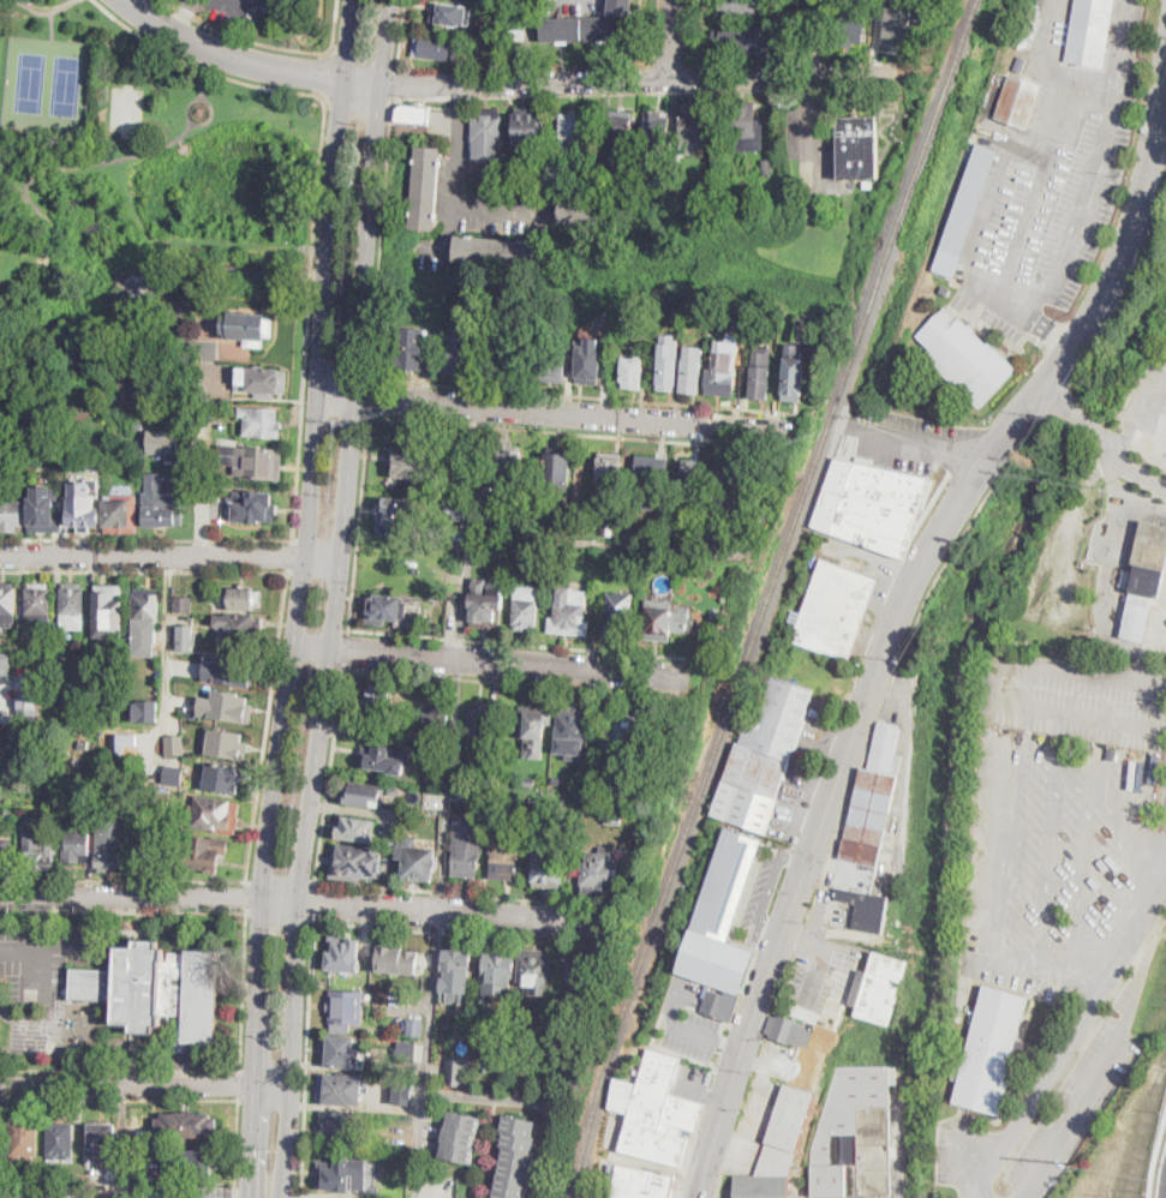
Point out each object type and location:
road: (195, 1)
road: (227, 1)
building: (739, 6)
road: (177, 8)
parking lot: (239, 10)
road: (44, 11)
building: (452, 13)
road: (181, 16)
building: (851, 22)
road: (52, 23)
building: (588, 25)
building: (898, 25)
road: (335, 30)
building: (1089, 32)
road: (656, 34)
road: (695, 34)
building: (803, 35)
road: (400, 36)
building: (736, 37)
road: (820, 38)
road: (349, 40)
road: (531, 41)
road: (674, 41)
road: (387, 42)
road: (257, 43)
building: (432, 48)
road: (229, 55)
building: (1019, 62)
road: (323, 76)
road: (648, 79)
road: (689, 80)
park: (47, 82)
road: (363, 82)
road: (635, 82)
road: (394, 84)
road: (204, 85)
road: (811, 89)
road: (639, 94)
building: (1017, 102)
park: (126, 108)
building: (412, 114)
road: (199, 119)
building: (692, 125)
building: (746, 126)
building: (528, 127)
building: (657, 127)
building: (575, 130)
building: (620, 132)
building: (486, 133)
road: (812, 145)
road: (459, 146)
building: (856, 148)
road: (1050, 155)
building: (765, 166)
building: (677, 168)
building: (555, 170)
road: (36, 174)
building: (868, 184)
building: (426, 188)
park: (125, 190)
road: (317, 192)
road: (500, 209)
building: (965, 210)
building: (580, 212)
parking lot: (1047, 220)
road: (381, 238)
road: (449, 240)
building: (496, 251)
road: (234, 270)
building: (941, 288)
building: (247, 328)
road: (1038, 328)
building: (806, 331)
building: (407, 348)
building: (552, 353)
building: (461, 355)
building: (516, 358)
building: (965, 358)
building: (588, 361)
building: (668, 367)
building: (692, 369)
building: (633, 372)
building: (760, 373)
building: (793, 373)
building: (720, 376)
building: (262, 381)
building: (120, 382)
building: (149, 384)
road: (369, 396)
road: (579, 397)
road: (551, 413)
building: (261, 423)
building: (138, 425)
road: (534, 431)
road: (1137, 432)
parking lot: (911, 439)
building: (165, 441)
road: (1102, 441)
road: (923, 445)
building: (454, 459)
building: (253, 461)
building: (412, 462)
building: (507, 466)
building: (557, 467)
building: (609, 469)
road: (204, 473)
building: (692, 480)
building: (653, 481)
building: (724, 491)
building: (869, 503)
building: (161, 504)
building: (253, 508)
building: (458, 510)
building: (10, 514)
building: (43, 514)
building: (104, 514)
building: (486, 516)
building: (396, 517)
building: (564, 519)
road: (360, 523)
building: (610, 525)
road: (472, 532)
building: (447, 537)
road: (147, 539)
building: (496, 546)
road: (905, 549)
road: (672, 550)
road: (151, 556)
road: (292, 557)
road: (323, 557)
road: (867, 557)
road: (144, 570)
building: (1144, 579)
railway: (766, 597)
building: (244, 599)
building: (183, 604)
building: (486, 604)
building: (7, 605)
building: (37, 605)
building: (525, 606)
building: (147, 610)
building: (833, 610)
building: (109, 611)
building: (395, 611)
building: (72, 612)
building: (569, 612)
road: (901, 612)
building: (716, 613)
building: (618, 616)
building: (665, 618)
building: (240, 625)
building: (186, 637)
road: (294, 637)
road: (335, 641)
road: (526, 645)
road: (346, 647)
road: (497, 661)
building: (5, 665)
road: (166, 669)
building: (229, 670)
road: (1162, 679)
road: (488, 682)
building: (376, 701)
road: (1019, 701)
building: (28, 705)
building: (226, 706)
building: (147, 711)
building: (438, 713)
building: (479, 720)
building: (0, 723)
road: (267, 727)
building: (533, 729)
building: (570, 730)
building: (627, 735)
building: (109, 736)
building: (26, 739)
building: (225, 742)
building: (84, 743)
building: (174, 743)
building: (502, 753)
building: (763, 753)
building: (384, 756)
building: (490, 767)
road: (328, 772)
building: (174, 773)
building: (220, 777)
building: (530, 780)
building: (408, 784)
road: (450, 785)
building: (394, 790)
building: (363, 793)
building: (165, 796)
building: (873, 798)
building: (533, 801)
building: (545, 802)
building: (426, 803)
building: (10, 808)
building: (633, 811)
building: (215, 814)
building: (612, 819)
building: (357, 829)
building: (74, 846)
building: (205, 852)
building: (110, 853)
building: (466, 853)
building: (504, 855)
building: (5, 857)
building: (42, 859)
building: (352, 862)
building: (417, 862)
building: (546, 868)
building: (598, 873)
parking lot: (848, 874)
road: (122, 880)
building: (726, 882)
road: (770, 883)
parking lot: (763, 891)
road: (460, 894)
road: (246, 895)
road: (307, 900)
road: (315, 900)
road: (122, 910)
building: (865, 910)
road: (35, 923)
road: (456, 934)
road: (67, 948)
building: (345, 953)
road: (42, 954)
building: (397, 957)
parking lot: (42, 958)
building: (716, 960)
building: (500, 964)
building: (536, 970)
building: (580, 971)
parking lot: (819, 971)
building: (459, 974)
building: (418, 986)
building: (878, 987)
road: (241, 989)
building: (157, 992)
road: (435, 1002)
building: (720, 1002)
building: (345, 1010)
building: (521, 1017)
parking lot: (688, 1019)
road: (687, 1028)
building: (415, 1029)
road: (1078, 1030)
building: (789, 1031)
building: (406, 1050)
building: (340, 1052)
building: (992, 1052)
road: (310, 1056)
parking lot: (795, 1060)
building: (455, 1071)
road: (120, 1072)
parking lot: (693, 1080)
building: (407, 1085)
road: (240, 1086)
road: (145, 1088)
building: (340, 1089)
road: (704, 1092)
road: (120, 1101)
road: (537, 1103)
parking lot: (758, 1104)
building: (654, 1109)
building: (186, 1125)
building: (340, 1128)
building: (785, 1131)
building: (855, 1134)
building: (461, 1137)
building: (24, 1139)
building: (60, 1139)
building: (102, 1140)
road: (423, 1145)
road: (237, 1149)
road: (1158, 1151)
building: (516, 1157)
building: (191, 1162)
road: (686, 1166)
building: (343, 1174)
road: (719, 1178)
building: (640, 1182)
building: (761, 1185)
building: (95, 1186)
building: (2, 1190)
building: (162, 1190)
parking lot: (207, 1194)
building: (18, 1196)

